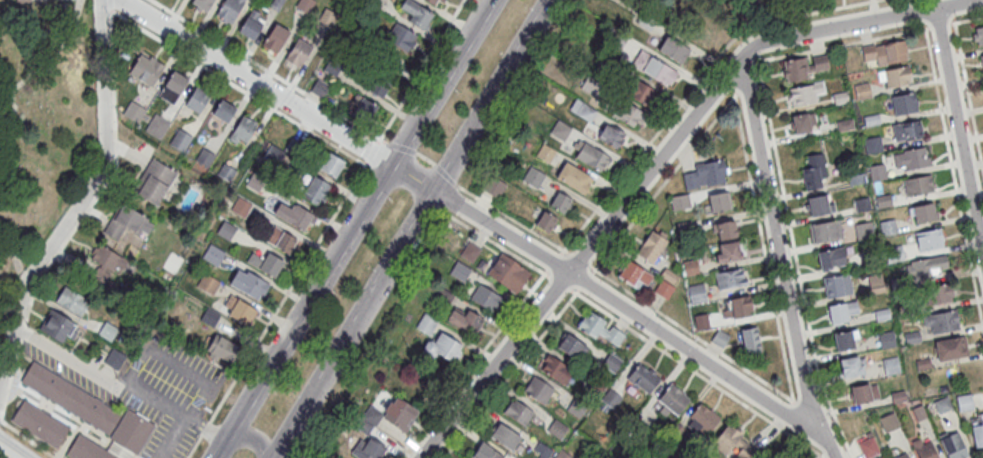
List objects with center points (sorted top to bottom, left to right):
building: (20, 1)
building: (433, 1)
building: (202, 4)
road: (110, 5)
road: (77, 7)
building: (229, 10)
building: (417, 14)
park: (707, 17)
road: (967, 20)
road: (856, 23)
building: (252, 24)
road: (939, 25)
road: (926, 28)
building: (977, 36)
building: (401, 37)
building: (275, 38)
building: (614, 39)
building: (674, 50)
road: (802, 51)
building: (298, 53)
building: (884, 53)
road: (45, 59)
building: (981, 60)
building: (804, 67)
building: (654, 68)
building: (146, 69)
road: (420, 70)
road: (269, 71)
building: (894, 76)
road: (744, 80)
building: (378, 82)
road: (695, 86)
building: (172, 87)
road: (240, 87)
building: (320, 87)
building: (861, 90)
building: (639, 91)
building: (806, 92)
road: (968, 98)
building: (197, 100)
building: (903, 103)
building: (364, 109)
building: (134, 111)
building: (223, 111)
building: (626, 113)
building: (804, 122)
park: (42, 124)
building: (157, 127)
building: (243, 130)
building: (906, 130)
building: (611, 136)
road: (958, 137)
building: (180, 141)
building: (872, 144)
road: (947, 144)
building: (293, 145)
road: (400, 147)
road: (373, 150)
building: (546, 152)
building: (276, 155)
road: (424, 157)
building: (592, 158)
building: (910, 158)
building: (331, 164)
building: (815, 171)
building: (877, 171)
road: (446, 173)
building: (706, 174)
building: (533, 176)
building: (574, 177)
road: (664, 181)
building: (155, 182)
road: (401, 185)
building: (917, 185)
building: (496, 187)
building: (316, 190)
building: (720, 201)
building: (560, 202)
building: (680, 202)
road: (82, 204)
building: (819, 204)
building: (240, 207)
building: (923, 212)
road: (472, 214)
road: (83, 217)
building: (299, 217)
road: (512, 218)
building: (546, 221)
building: (125, 225)
building: (226, 229)
road: (353, 229)
road: (411, 229)
building: (725, 230)
building: (826, 230)
building: (863, 230)
building: (281, 239)
building: (928, 239)
road: (490, 240)
building: (652, 246)
building: (729, 251)
building: (213, 254)
building: (831, 257)
road: (579, 258)
road: (579, 259)
road: (778, 260)
road: (553, 261)
road: (16, 262)
road: (796, 262)
building: (266, 263)
building: (927, 266)
building: (690, 267)
building: (508, 273)
building: (635, 275)
building: (731, 279)
road: (585, 280)
road: (558, 282)
building: (875, 282)
building: (249, 284)
building: (837, 285)
road: (624, 289)
building: (664, 289)
building: (697, 293)
building: (938, 293)
building: (485, 297)
building: (227, 299)
road: (569, 300)
building: (71, 301)
building: (737, 307)
road: (277, 309)
building: (840, 311)
building: (465, 320)
building: (701, 321)
building: (940, 321)
building: (426, 323)
building: (58, 326)
road: (778, 327)
building: (601, 330)
building: (108, 331)
building: (886, 338)
building: (720, 339)
building: (750, 339)
building: (845, 339)
building: (571, 347)
building: (950, 347)
building: (444, 348)
building: (222, 349)
building: (114, 358)
road: (70, 360)
road: (174, 361)
road: (471, 364)
building: (852, 365)
building: (891, 365)
building: (556, 368)
road: (697, 371)
building: (644, 378)
road: (501, 384)
parking lot: (142, 385)
building: (538, 389)
building: (863, 392)
building: (73, 397)
building: (611, 399)
building: (674, 399)
road: (793, 401)
building: (964, 402)
road: (802, 407)
road: (176, 411)
road: (793, 411)
building: (518, 412)
building: (399, 413)
road: (70, 419)
building: (703, 419)
building: (41, 423)
road: (205, 426)
building: (557, 428)
building: (977, 429)
building: (505, 436)
road: (251, 438)
building: (727, 438)
road: (27, 439)
building: (115, 439)
road: (66, 441)
building: (954, 444)
building: (868, 448)
building: (924, 448)
building: (543, 450)
road: (8, 452)
building: (486, 452)
building: (563, 454)
building: (901, 455)
building: (883, 457)

